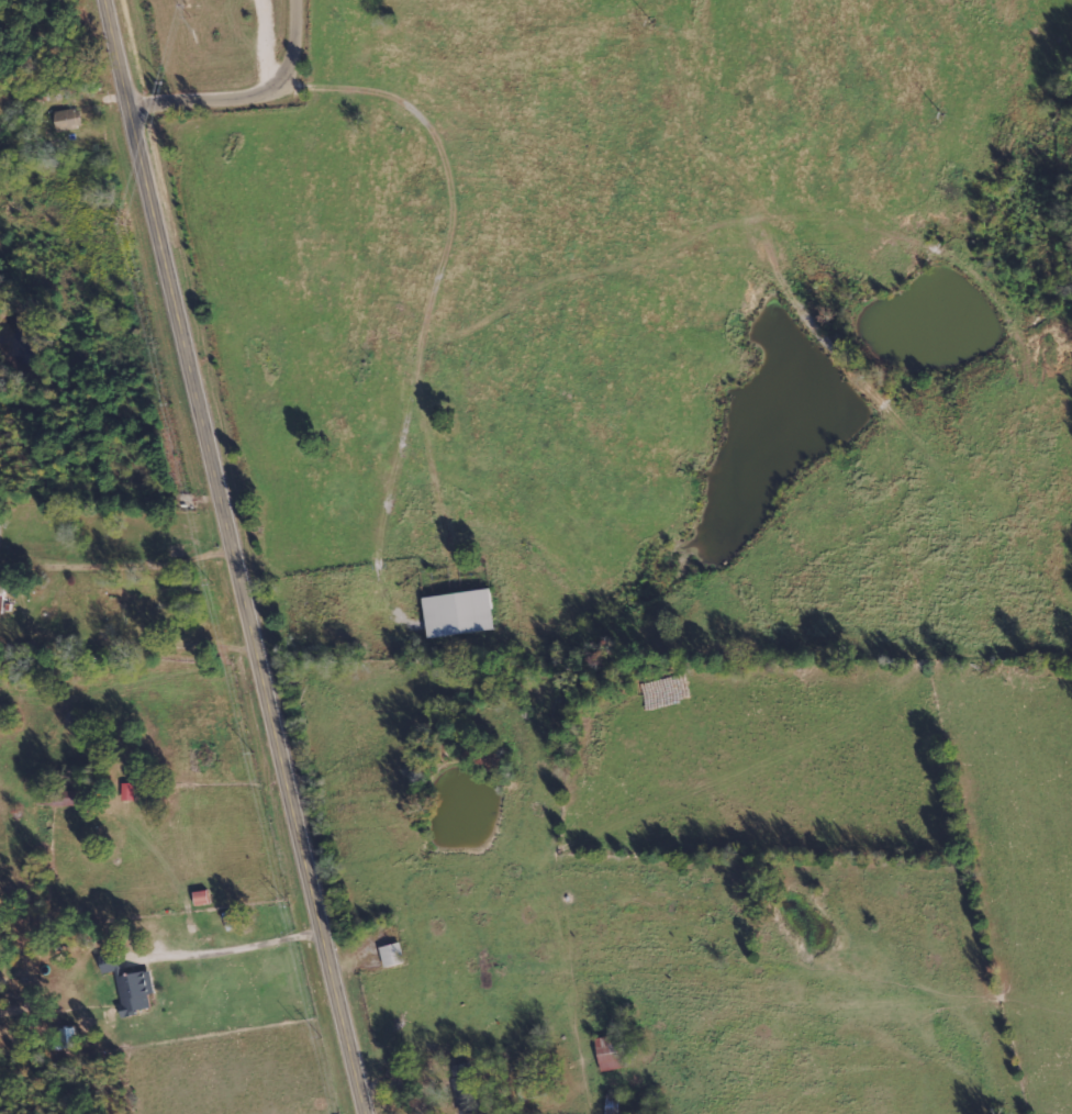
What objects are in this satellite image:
road: (250, 91)
building: (67, 120)
road: (237, 556)
building: (1, 598)
building: (459, 613)
building: (127, 792)
building: (77, 799)
building: (201, 898)
building: (392, 955)
building: (135, 992)
building: (611, 1054)
building: (465, 1088)

